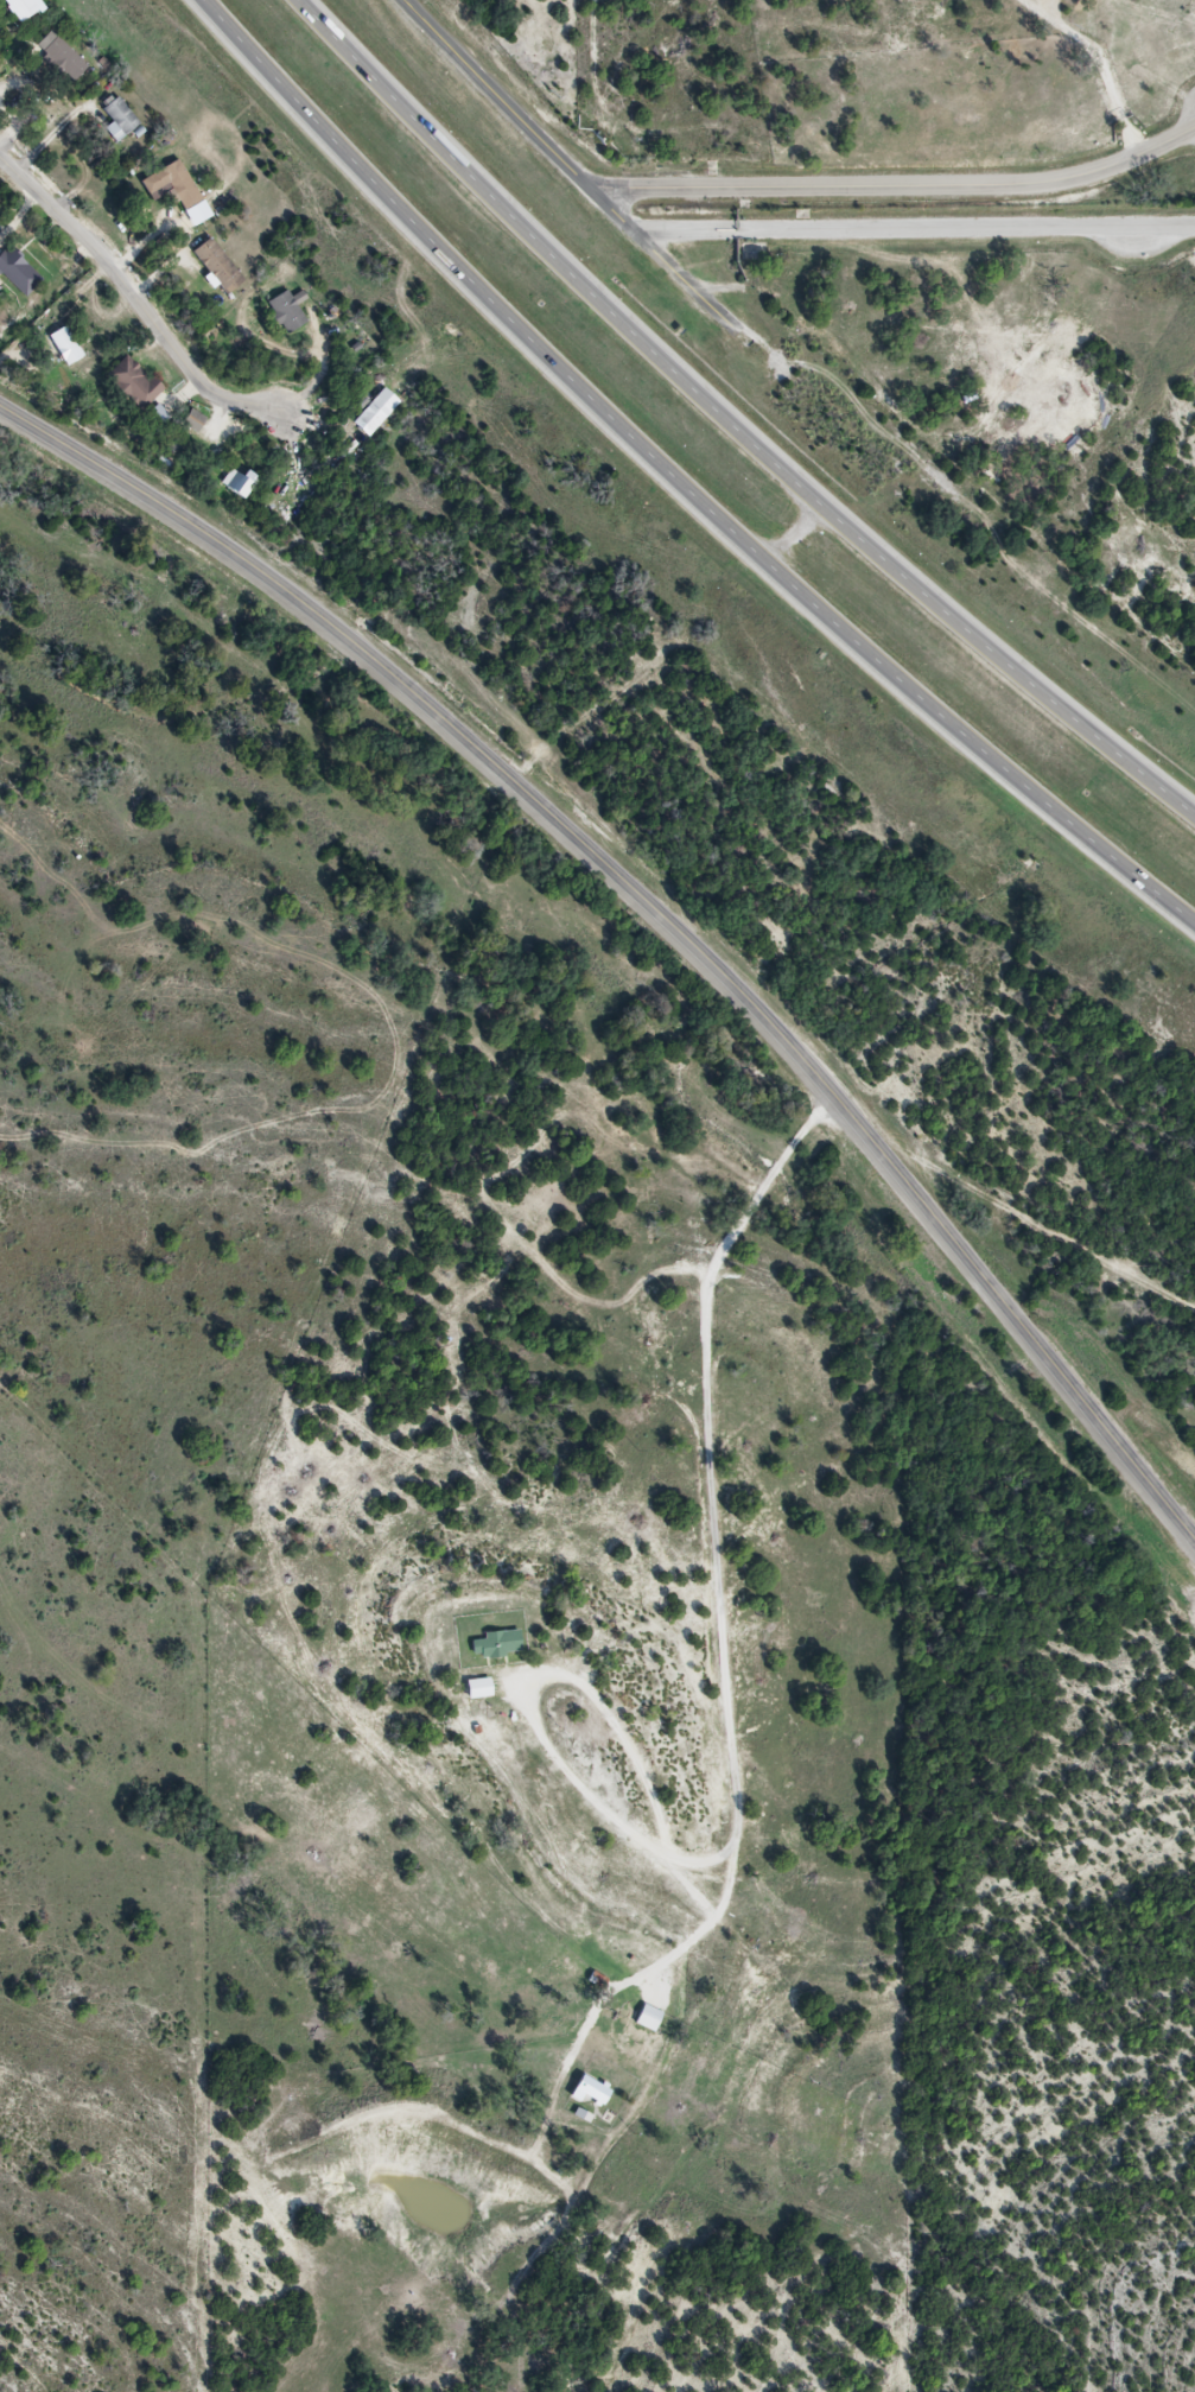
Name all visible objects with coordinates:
building: (23, 8)
building: (65, 59)
building: (120, 119)
road: (567, 167)
building: (174, 184)
road: (900, 188)
road: (914, 229)
building: (220, 266)
building: (19, 272)
road: (134, 303)
building: (286, 312)
building: (66, 347)
building: (134, 382)
building: (195, 421)
road: (737, 424)
building: (239, 484)
road: (678, 489)
road: (656, 908)
building: (501, 1643)
building: (481, 1688)
road: (729, 1730)
building: (649, 2018)
building: (593, 2090)

